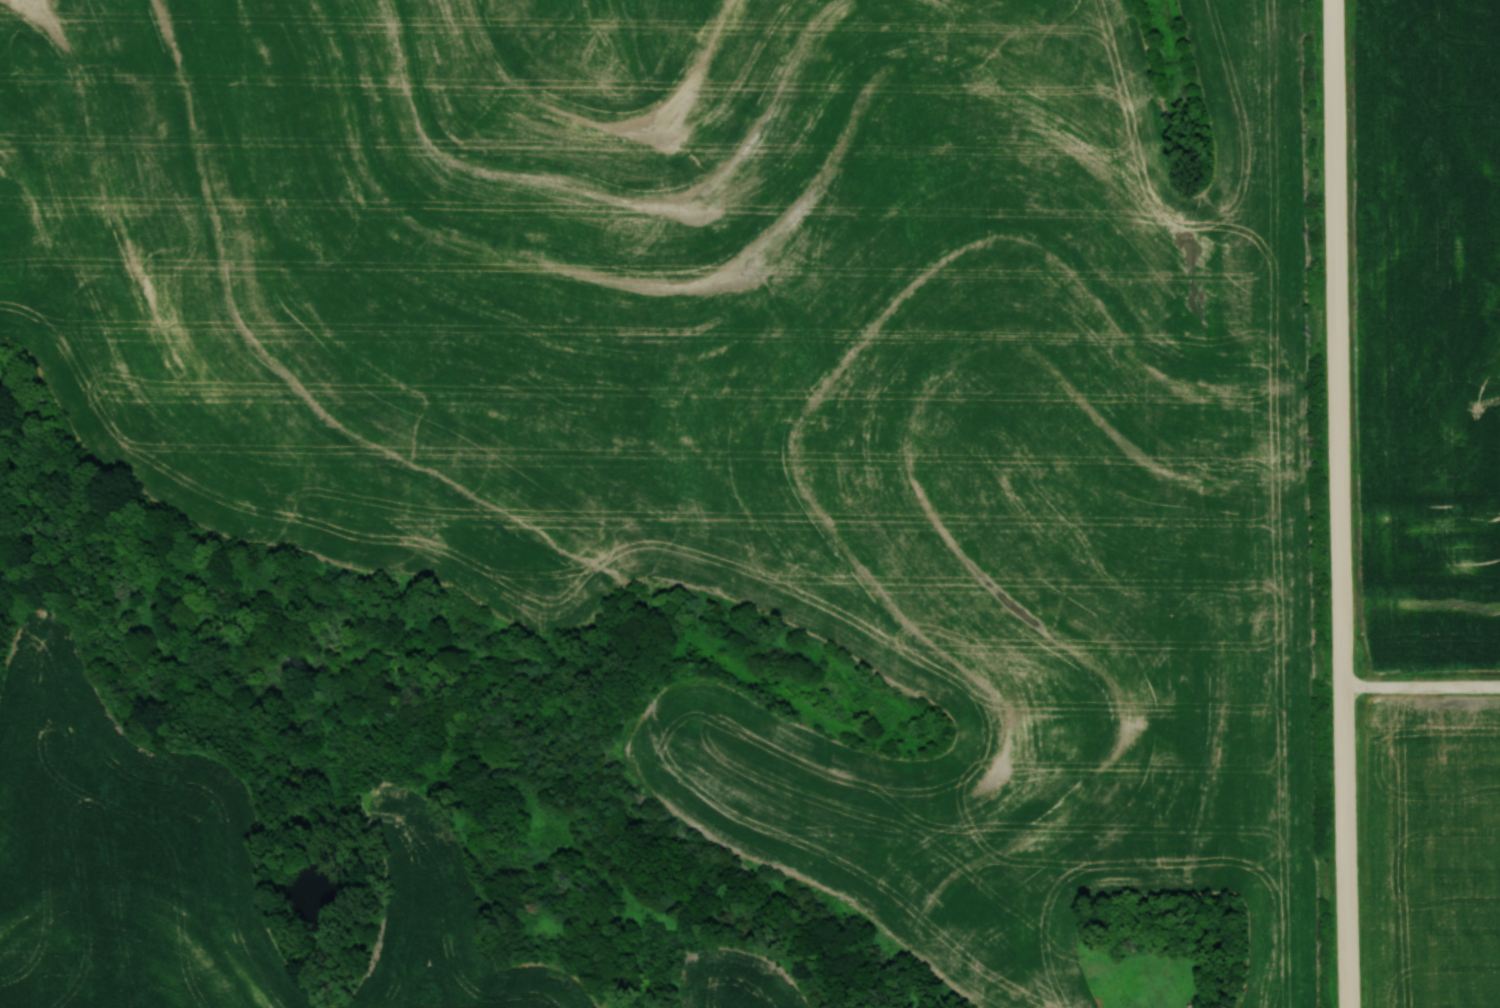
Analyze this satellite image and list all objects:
road: (1338, 504)
road: (1420, 685)

